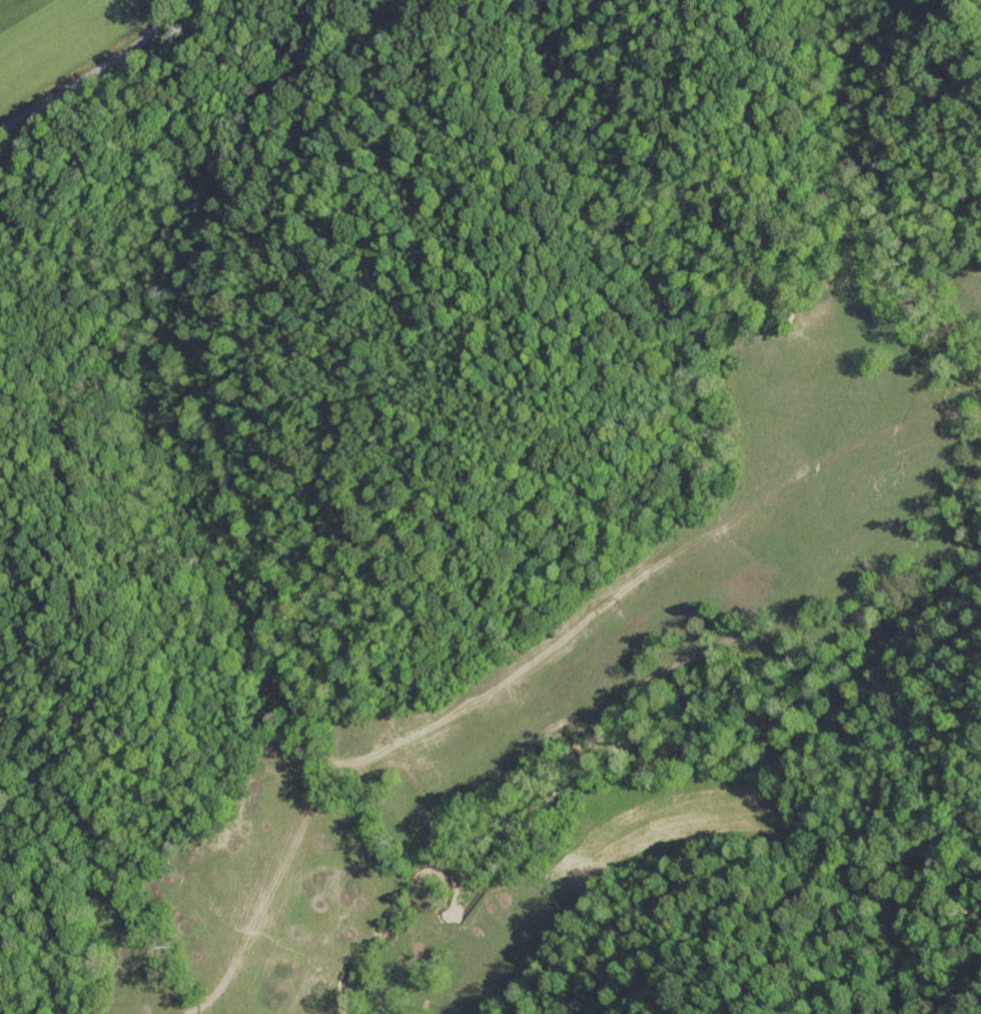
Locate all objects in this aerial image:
road: (92, 74)

